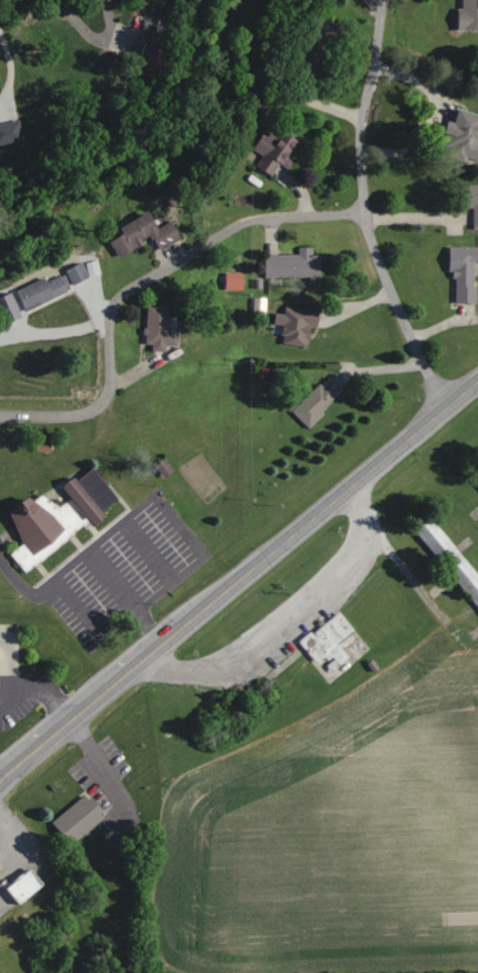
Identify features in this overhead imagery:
building: (469, 15)
road: (94, 35)
building: (323, 44)
building: (158, 49)
building: (11, 131)
building: (463, 135)
building: (275, 150)
road: (300, 188)
building: (470, 198)
road: (362, 211)
road: (413, 216)
building: (146, 234)
building: (295, 264)
building: (81, 272)
building: (465, 274)
road: (140, 282)
building: (44, 290)
building: (161, 326)
road: (439, 326)
building: (300, 327)
building: (319, 401)
building: (476, 474)
building: (60, 516)
building: (450, 555)
road: (239, 580)
road: (286, 620)
building: (330, 643)
building: (79, 819)
building: (26, 886)

